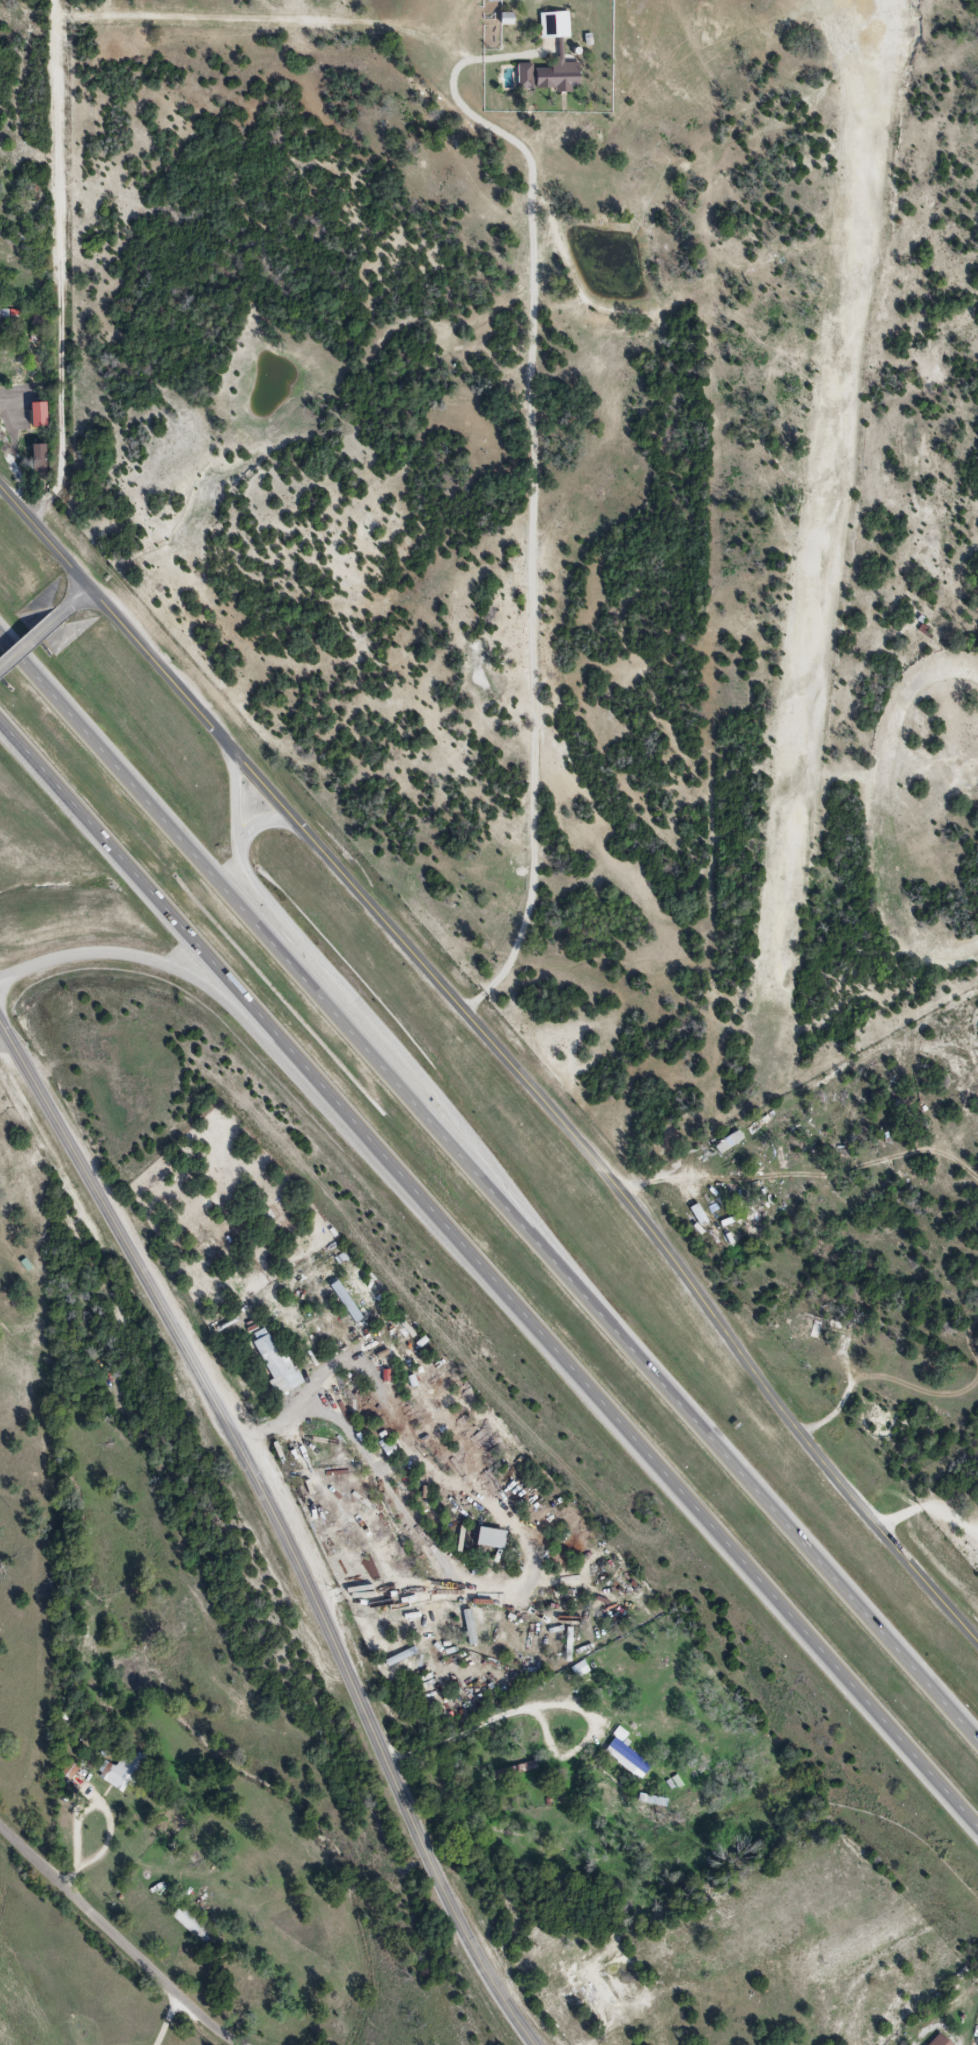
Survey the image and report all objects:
building: (555, 24)
building: (564, 75)
road: (61, 264)
building: (39, 463)
airport runway: (822, 489)
road: (44, 536)
road: (74, 600)
road: (29, 639)
road: (260, 820)
road: (367, 1014)
road: (248, 1031)
road: (5, 1041)
road: (546, 1104)
road: (488, 1190)
road: (486, 1276)
building: (346, 1303)
building: (807, 1334)
building: (922, 1366)
building: (277, 1367)
road: (400, 1509)
road: (928, 1509)
road: (279, 1526)
building: (492, 1539)
building: (626, 1755)
building: (514, 1772)
building: (122, 1774)
road: (88, 1802)
building: (192, 1924)
road: (117, 1942)
road: (176, 2025)
building: (80, 2034)
building: (940, 2041)

